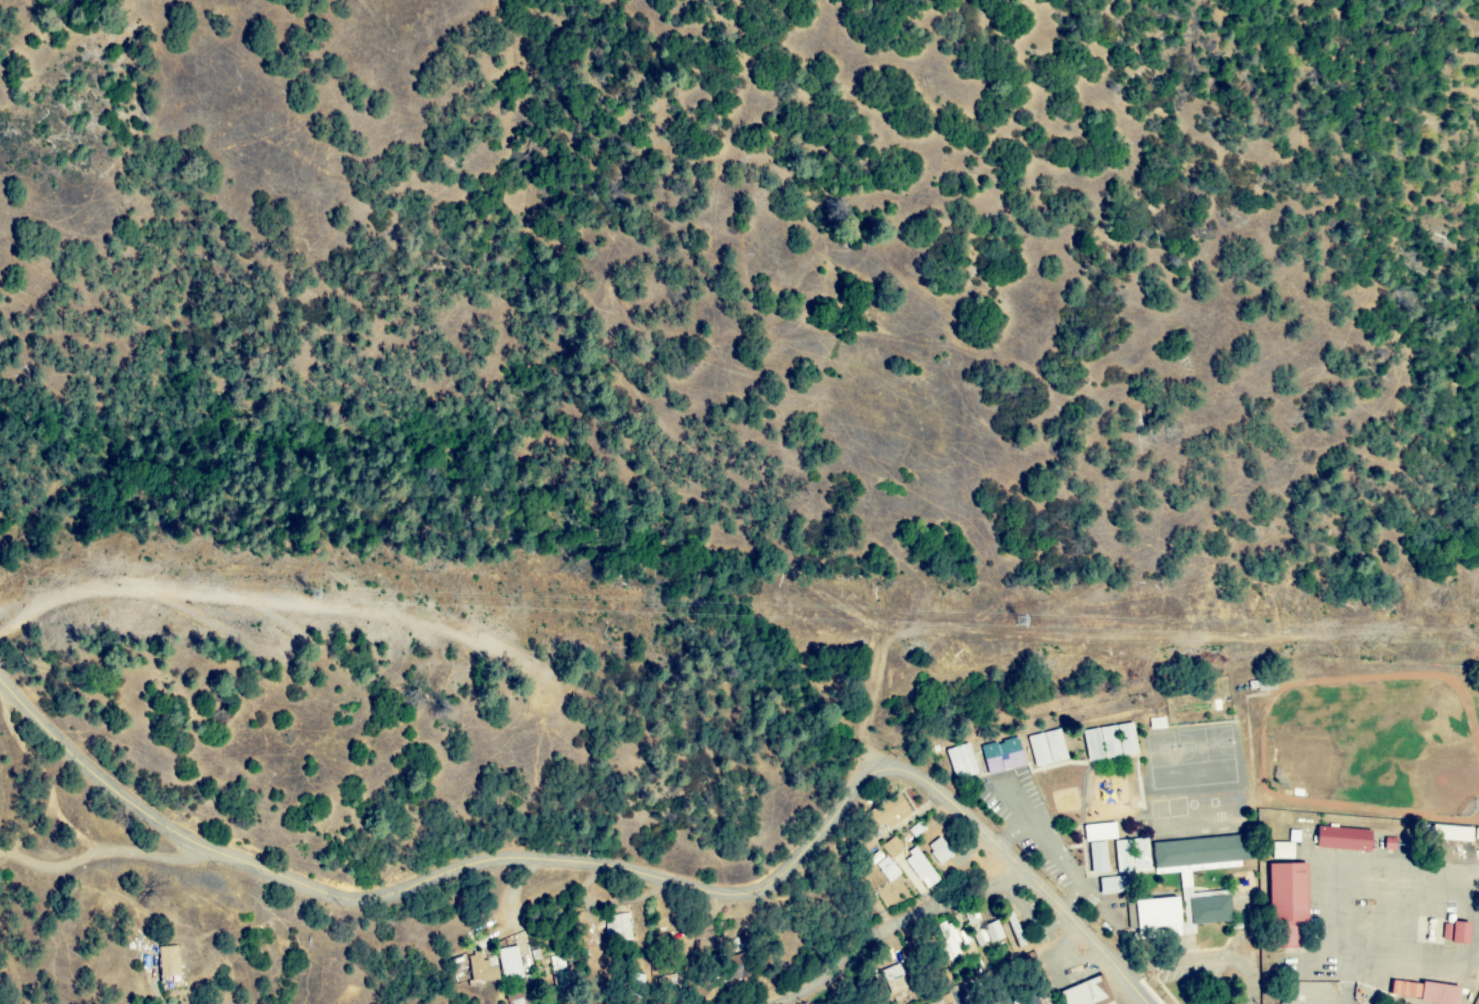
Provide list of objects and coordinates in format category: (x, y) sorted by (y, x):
power tower: (305, 573)
power tower: (1021, 622)
building: (1157, 723)
building: (1109, 743)
building: (1046, 749)
building: (1001, 756)
building: (961, 762)
building: (891, 812)
building: (1100, 833)
building: (1453, 834)
building: (1477, 835)
building: (1344, 839)
building: (1286, 847)
building: (891, 849)
building: (939, 851)
road: (108, 855)
building: (1131, 856)
building: (876, 858)
building: (1098, 858)
road: (607, 866)
building: (921, 869)
building: (887, 870)
building: (1113, 886)
building: (1289, 902)
building: (1156, 919)
road: (892, 926)
building: (617, 928)
building: (1456, 933)
building: (987, 935)
building: (949, 939)
building: (1019, 941)
road: (1226, 958)
building: (168, 962)
building: (508, 963)
road: (1138, 967)
building: (480, 969)
building: (1426, 992)
building: (1084, 994)
road: (1145, 995)
building: (1032, 1000)
building: (938, 1002)
building: (952, 1003)

